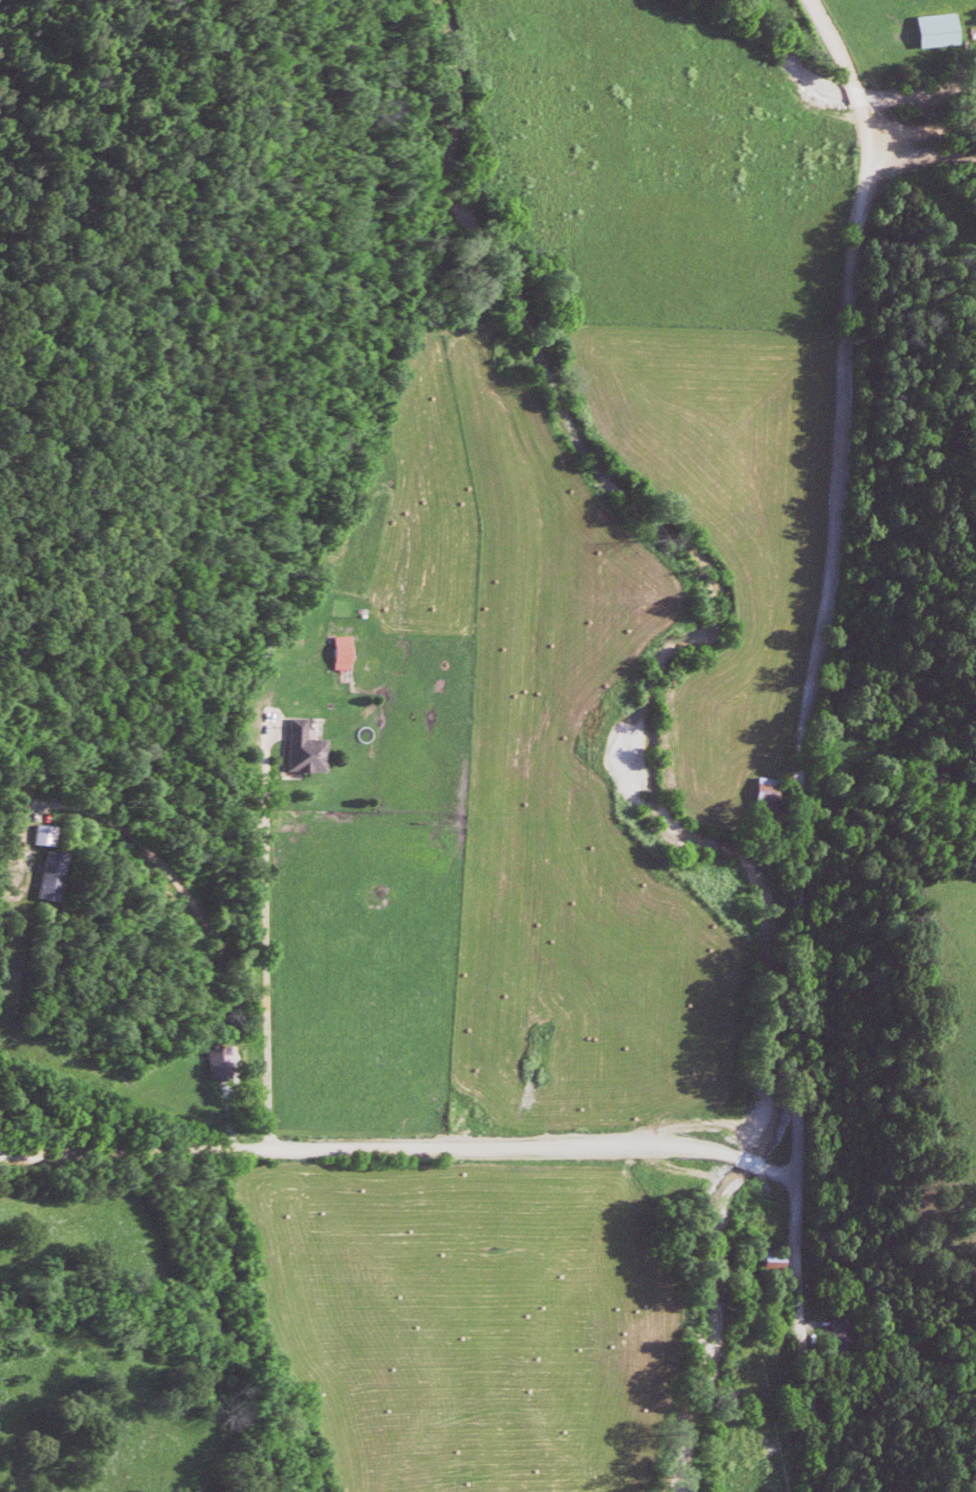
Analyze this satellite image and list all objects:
building: (928, 30)
road: (922, 129)
road: (924, 157)
road: (833, 590)
building: (334, 652)
building: (295, 748)
building: (760, 793)
building: (36, 834)
building: (43, 874)
road: (164, 876)
road: (259, 935)
building: (212, 1061)
road: (405, 1147)
building: (763, 1260)
building: (835, 1333)
road: (806, 1342)

